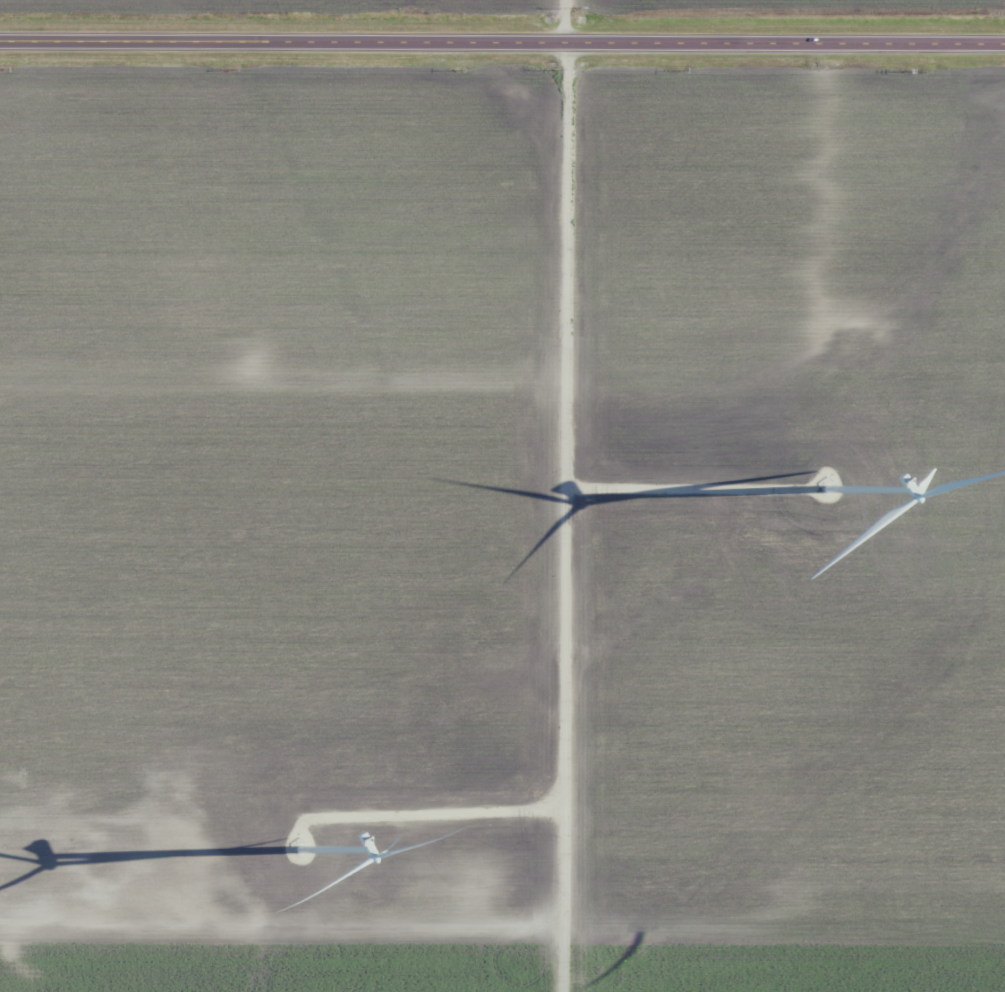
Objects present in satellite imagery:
road: (502, 44)
road: (502, 359)
wind turbine: (825, 484)
road: (569, 495)
wind turbine: (293, 851)

